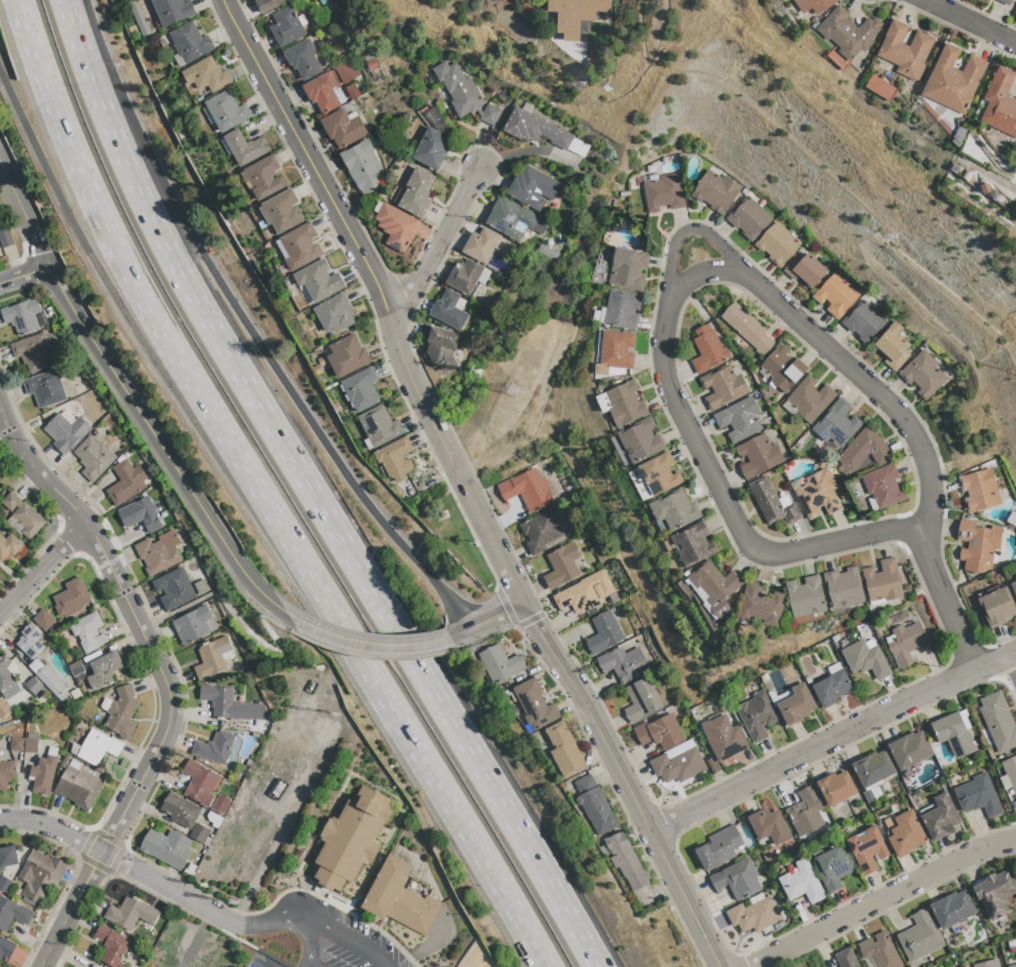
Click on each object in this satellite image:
building: (1004, 2)
building: (269, 5)
building: (813, 5)
building: (172, 11)
building: (575, 14)
road: (68, 15)
building: (139, 17)
road: (967, 22)
building: (286, 27)
building: (847, 32)
building: (190, 43)
building: (905, 50)
building: (303, 59)
building: (206, 76)
building: (953, 80)
building: (459, 89)
building: (322, 93)
building: (1000, 103)
building: (227, 111)
building: (490, 116)
building: (343, 128)
building: (535, 129)
building: (245, 148)
building: (432, 149)
building: (362, 166)
building: (264, 179)
building: (532, 188)
building: (714, 191)
building: (417, 193)
building: (664, 193)
building: (283, 212)
building: (747, 218)
building: (516, 223)
building: (396, 227)
building: (5, 236)
building: (776, 243)
building: (481, 245)
building: (300, 247)
road: (439, 248)
building: (628, 269)
building: (804, 270)
road: (703, 274)
road: (24, 275)
building: (466, 276)
building: (319, 281)
building: (835, 294)
road: (381, 297)
building: (622, 309)
building: (449, 310)
road: (151, 313)
building: (335, 314)
building: (22, 317)
building: (863, 322)
building: (747, 327)
road: (256, 341)
building: (892, 347)
road: (145, 348)
building: (442, 348)
building: (618, 349)
building: (707, 350)
building: (33, 354)
building: (347, 357)
building: (782, 368)
power tower: (481, 372)
building: (922, 374)
building: (722, 386)
building: (45, 389)
building: (361, 390)
power tower: (514, 390)
road: (129, 398)
building: (809, 399)
building: (626, 404)
road: (896, 416)
building: (738, 419)
building: (836, 424)
building: (379, 426)
building: (66, 433)
building: (641, 440)
building: (863, 451)
building: (757, 456)
building: (93, 458)
building: (395, 460)
road: (710, 469)
building: (659, 474)
building: (127, 482)
building: (883, 486)
building: (978, 490)
building: (528, 491)
building: (817, 494)
building: (772, 502)
road: (319, 506)
building: (674, 509)
building: (140, 515)
building: (22, 517)
building: (539, 531)
building: (692, 544)
building: (977, 545)
building: (8, 547)
building: (159, 553)
building: (561, 565)
road: (40, 566)
building: (1015, 577)
building: (882, 581)
building: (202, 587)
building: (713, 587)
building: (1013, 587)
building: (842, 588)
building: (174, 590)
building: (584, 593)
building: (805, 596)
building: (71, 599)
building: (760, 605)
building: (996, 606)
building: (44, 620)
road: (487, 621)
building: (192, 626)
building: (88, 632)
building: (603, 633)
building: (30, 642)
road: (367, 642)
building: (904, 643)
building: (212, 658)
building: (865, 658)
building: (623, 664)
road: (1011, 664)
building: (501, 665)
building: (76, 669)
building: (103, 671)
road: (161, 675)
building: (49, 679)
building: (7, 680)
building: (33, 686)
building: (831, 686)
building: (76, 695)
building: (640, 700)
building: (534, 704)
building: (232, 705)
building: (795, 705)
building: (3, 710)
building: (120, 712)
building: (756, 715)
building: (998, 721)
building: (328, 732)
building: (658, 732)
building: (953, 733)
building: (723, 738)
road: (832, 739)
building: (17, 744)
building: (31, 746)
building: (98, 748)
building: (215, 748)
building: (564, 750)
building: (909, 750)
building: (65, 761)
building: (677, 763)
building: (872, 768)
building: (1010, 772)
building: (44, 773)
building: (6, 774)
road: (625, 782)
building: (200, 784)
road: (438, 785)
building: (78, 787)
building: (835, 788)
building: (977, 796)
building: (594, 805)
building: (219, 810)
building: (180, 811)
building: (805, 811)
building: (939, 818)
building: (214, 820)
building: (768, 826)
building: (905, 833)
building: (200, 834)
building: (352, 839)
building: (718, 847)
building: (167, 848)
building: (867, 848)
building: (8, 856)
building: (625, 861)
road: (130, 866)
building: (832, 867)
building: (40, 875)
building: (736, 879)
building: (801, 883)
building: (5, 884)
power tower: (207, 889)
building: (995, 893)
power tower: (241, 896)
building: (400, 899)
road: (881, 899)
building: (952, 909)
building: (12, 913)
building: (131, 914)
building: (753, 915)
road: (283, 921)
building: (919, 936)
road: (351, 942)
road: (308, 943)
building: (112, 947)
building: (6, 949)
building: (879, 950)
building: (845, 958)
road: (304, 964)
road: (310, 964)
building: (987, 964)
building: (1012, 965)
building: (94, 966)

